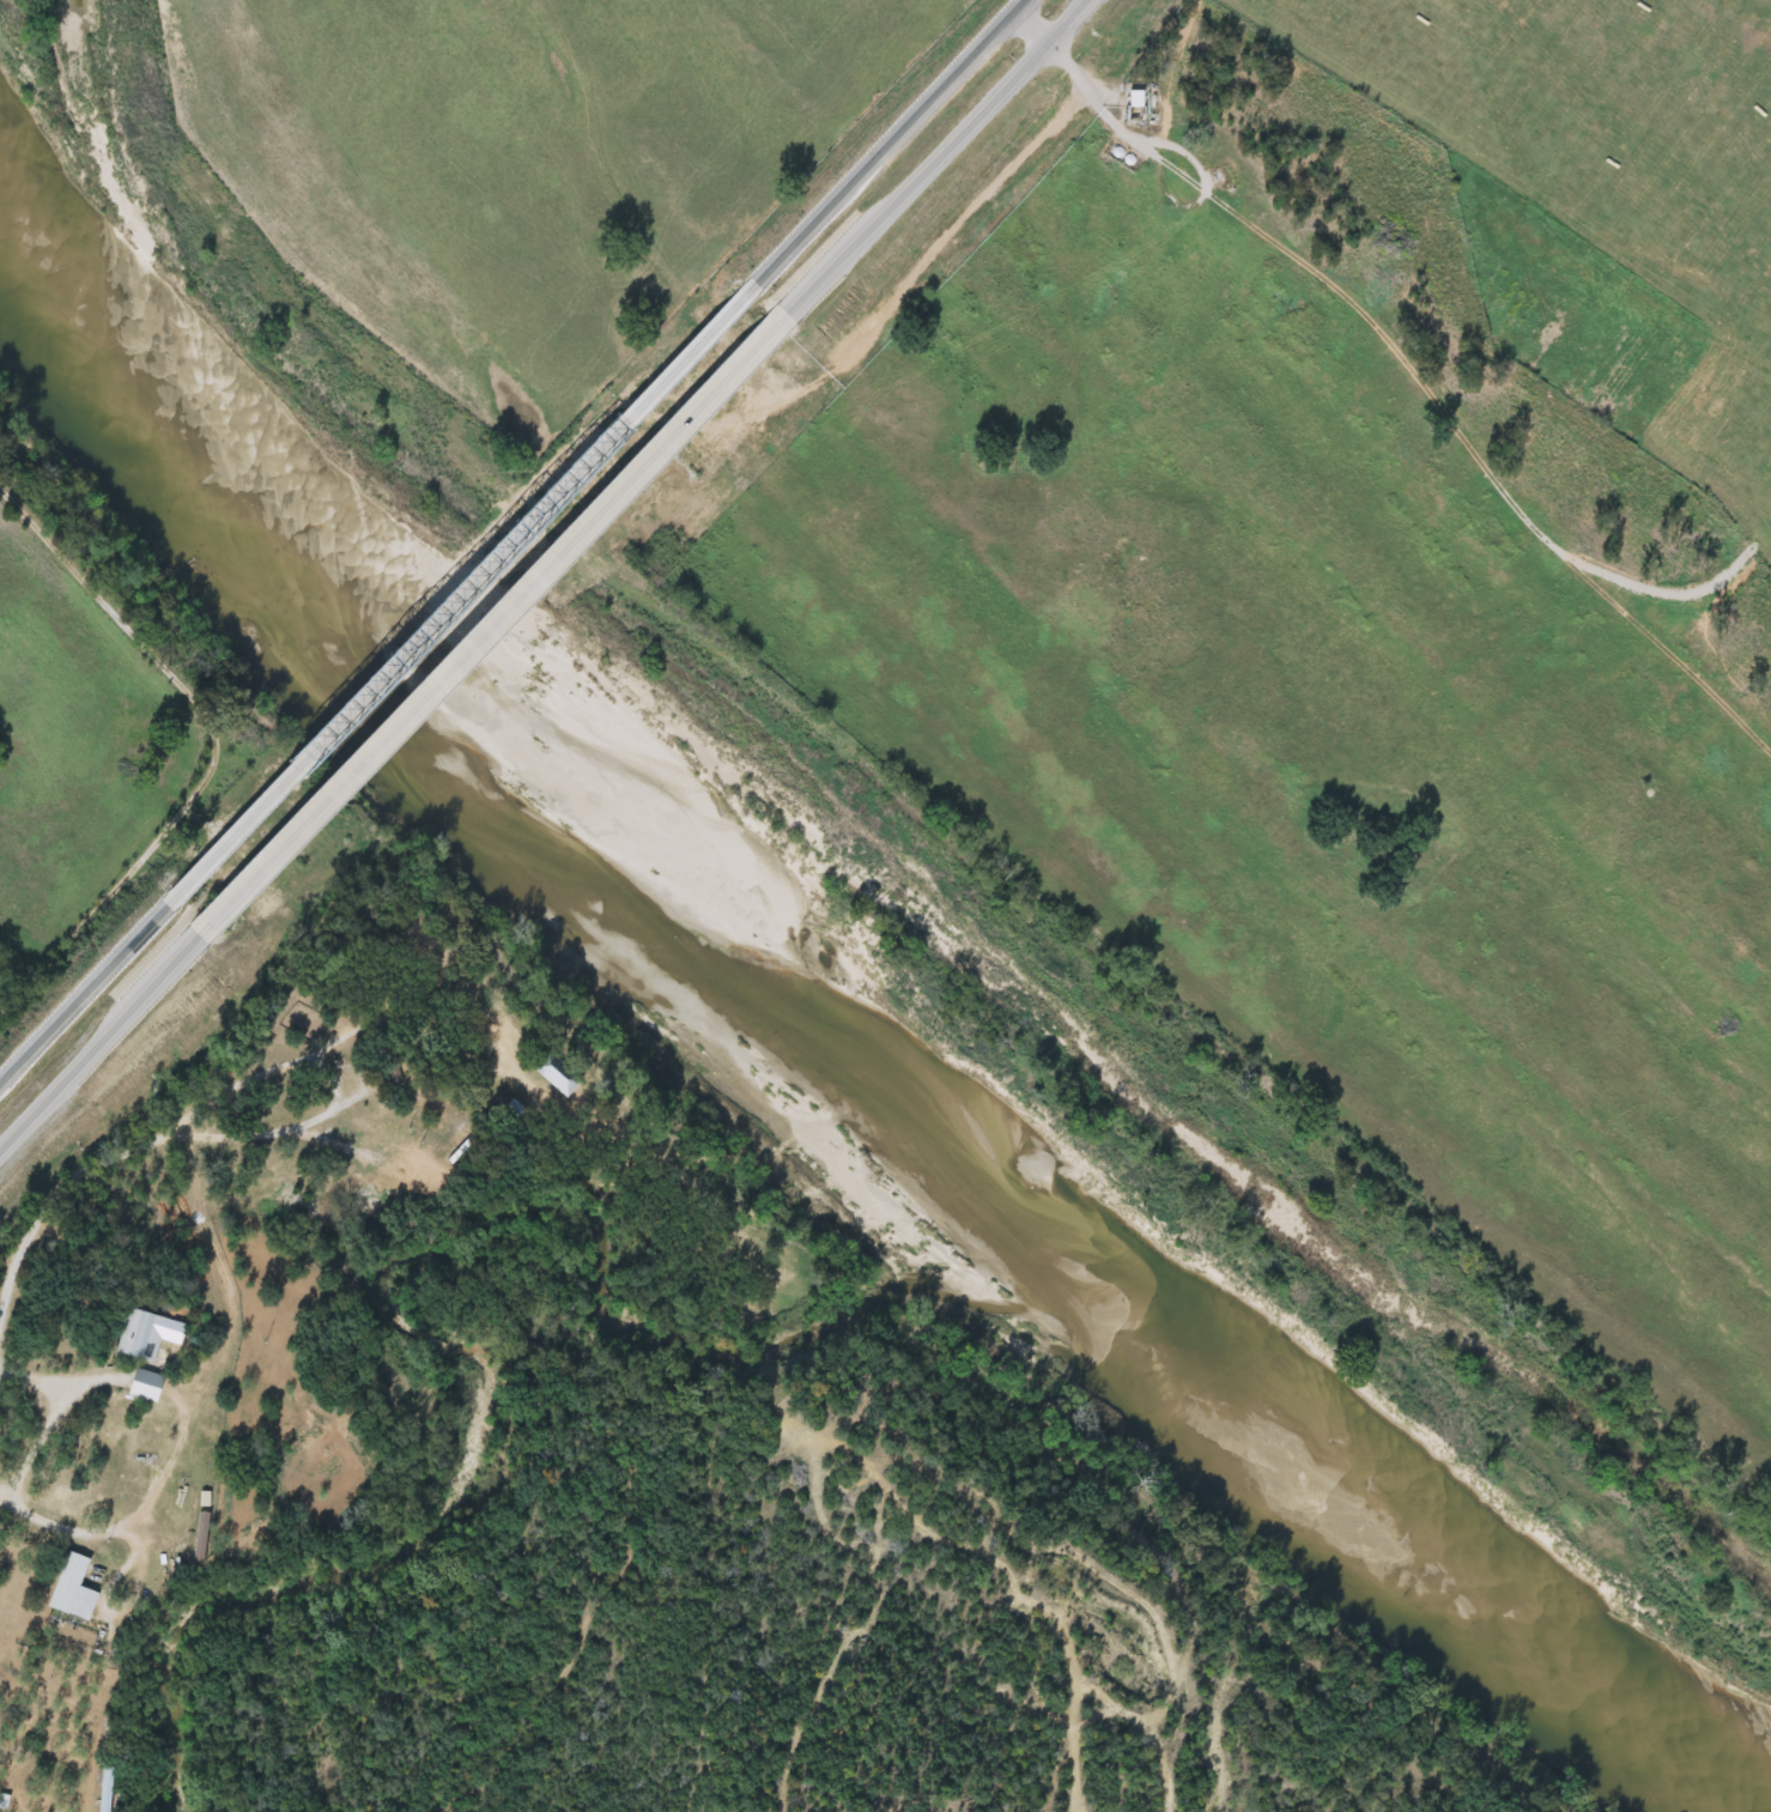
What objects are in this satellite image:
road: (1061, 19)
road: (1027, 24)
building: (1134, 99)
road: (887, 143)
road: (1157, 164)
road: (915, 177)
road: (460, 596)
road: (492, 625)
road: (83, 993)
road: (99, 1040)
river: (827, 1047)
building: (554, 1072)
road: (200, 1110)
building: (137, 1335)
road: (75, 1380)
building: (138, 1384)
road: (51, 1426)
building: (195, 1535)
road: (79, 1538)
building: (68, 1588)
building: (103, 1794)

